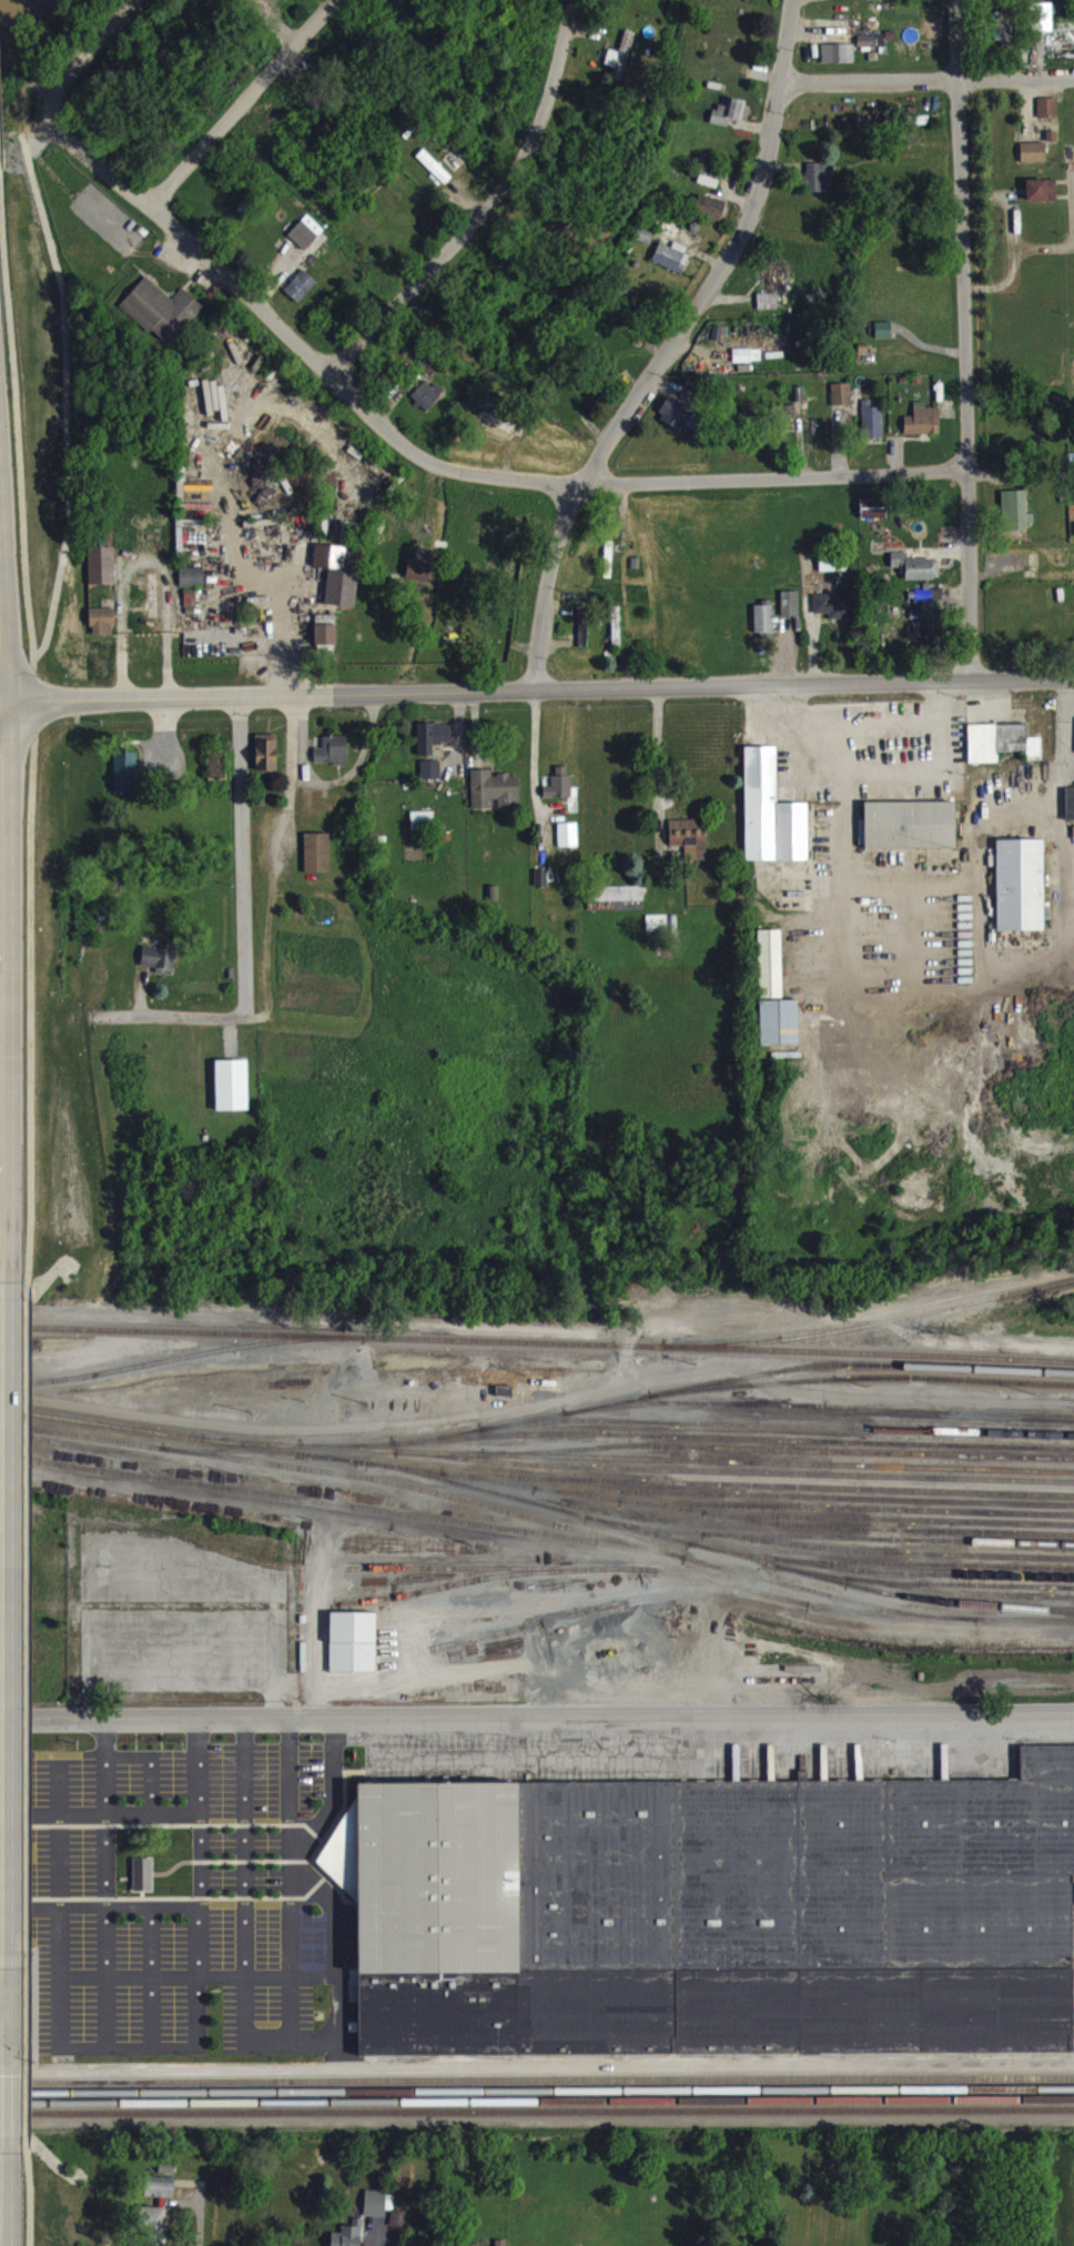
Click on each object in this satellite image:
building: (752, 2)
building: (857, 3)
building: (1042, 26)
building: (1003, 31)
road: (89, 49)
building: (872, 49)
building: (839, 61)
building: (621, 64)
road: (928, 82)
road: (247, 107)
building: (1048, 115)
building: (729, 120)
building: (1034, 160)
building: (710, 183)
building: (820, 185)
building: (1042, 198)
road: (487, 203)
building: (710, 214)
road: (1, 215)
building: (304, 243)
building: (672, 264)
building: (776, 285)
building: (302, 294)
building: (768, 309)
building: (162, 319)
building: (884, 339)
road: (965, 339)
road: (669, 345)
building: (748, 363)
building: (842, 402)
building: (427, 403)
building: (680, 423)
building: (924, 429)
building: (873, 431)
road: (437, 460)
building: (874, 517)
building: (1016, 518)
building: (833, 571)
building: (102, 574)
building: (915, 575)
building: (419, 580)
building: (340, 582)
road: (255, 583)
building: (192, 585)
building: (153, 604)
building: (790, 612)
building: (837, 616)
building: (929, 618)
building: (764, 626)
building: (102, 630)
building: (617, 634)
building: (585, 636)
building: (325, 638)
road: (537, 689)
building: (434, 745)
road: (537, 748)
road: (660, 748)
building: (1002, 751)
road: (32, 756)
building: (333, 759)
building: (267, 761)
road: (880, 772)
building: (432, 778)
building: (126, 782)
building: (561, 793)
building: (496, 798)
building: (1070, 812)
building: (772, 820)
building: (423, 828)
building: (910, 834)
building: (568, 843)
building: (689, 846)
building: (318, 862)
building: (541, 885)
building: (1021, 893)
building: (621, 906)
road: (242, 913)
building: (661, 931)
building: (160, 967)
building: (770, 971)
building: (779, 1020)
building: (232, 1094)
railway: (871, 1331)
railway: (537, 1349)
railway: (537, 1351)
railway: (182, 1367)
railway: (861, 1372)
railway: (820, 1389)
railway: (638, 1412)
road: (540, 1414)
railway: (778, 1433)
railway: (734, 1448)
railway: (688, 1456)
railway: (779, 1471)
railway: (734, 1480)
railway: (721, 1493)
railway: (757, 1503)
railway: (337, 1513)
railway: (538, 1513)
railway: (804, 1515)
railway: (538, 1527)
railway: (848, 1527)
road: (416, 1535)
railway: (889, 1538)
railway: (830, 1545)
railway: (888, 1561)
railway: (882, 1571)
railway: (636, 1578)
railway: (919, 1582)
railway: (473, 1590)
railway: (925, 1591)
railway: (960, 1602)
railway: (620, 1612)
road: (26, 1614)
railway: (1038, 1618)
railway: (505, 1626)
road: (893, 1639)
building: (354, 1651)
railway: (537, 1695)
road: (536, 1715)
road: (551, 1765)
road: (336, 1794)
road: (131, 1824)
building: (144, 1883)
road: (107, 1886)
building: (712, 1912)
road: (337, 1953)
road: (200, 1984)
road: (22, 2005)
road: (161, 2054)
road: (318, 2055)
road: (268, 2056)
railway: (536, 2077)
railway: (537, 2088)
railway: (537, 2099)
road: (22, 2101)
railway: (537, 2108)
road: (24, 2192)
building: (160, 2197)
building: (376, 2212)
building: (401, 2227)
building: (153, 2230)
building: (352, 2238)

